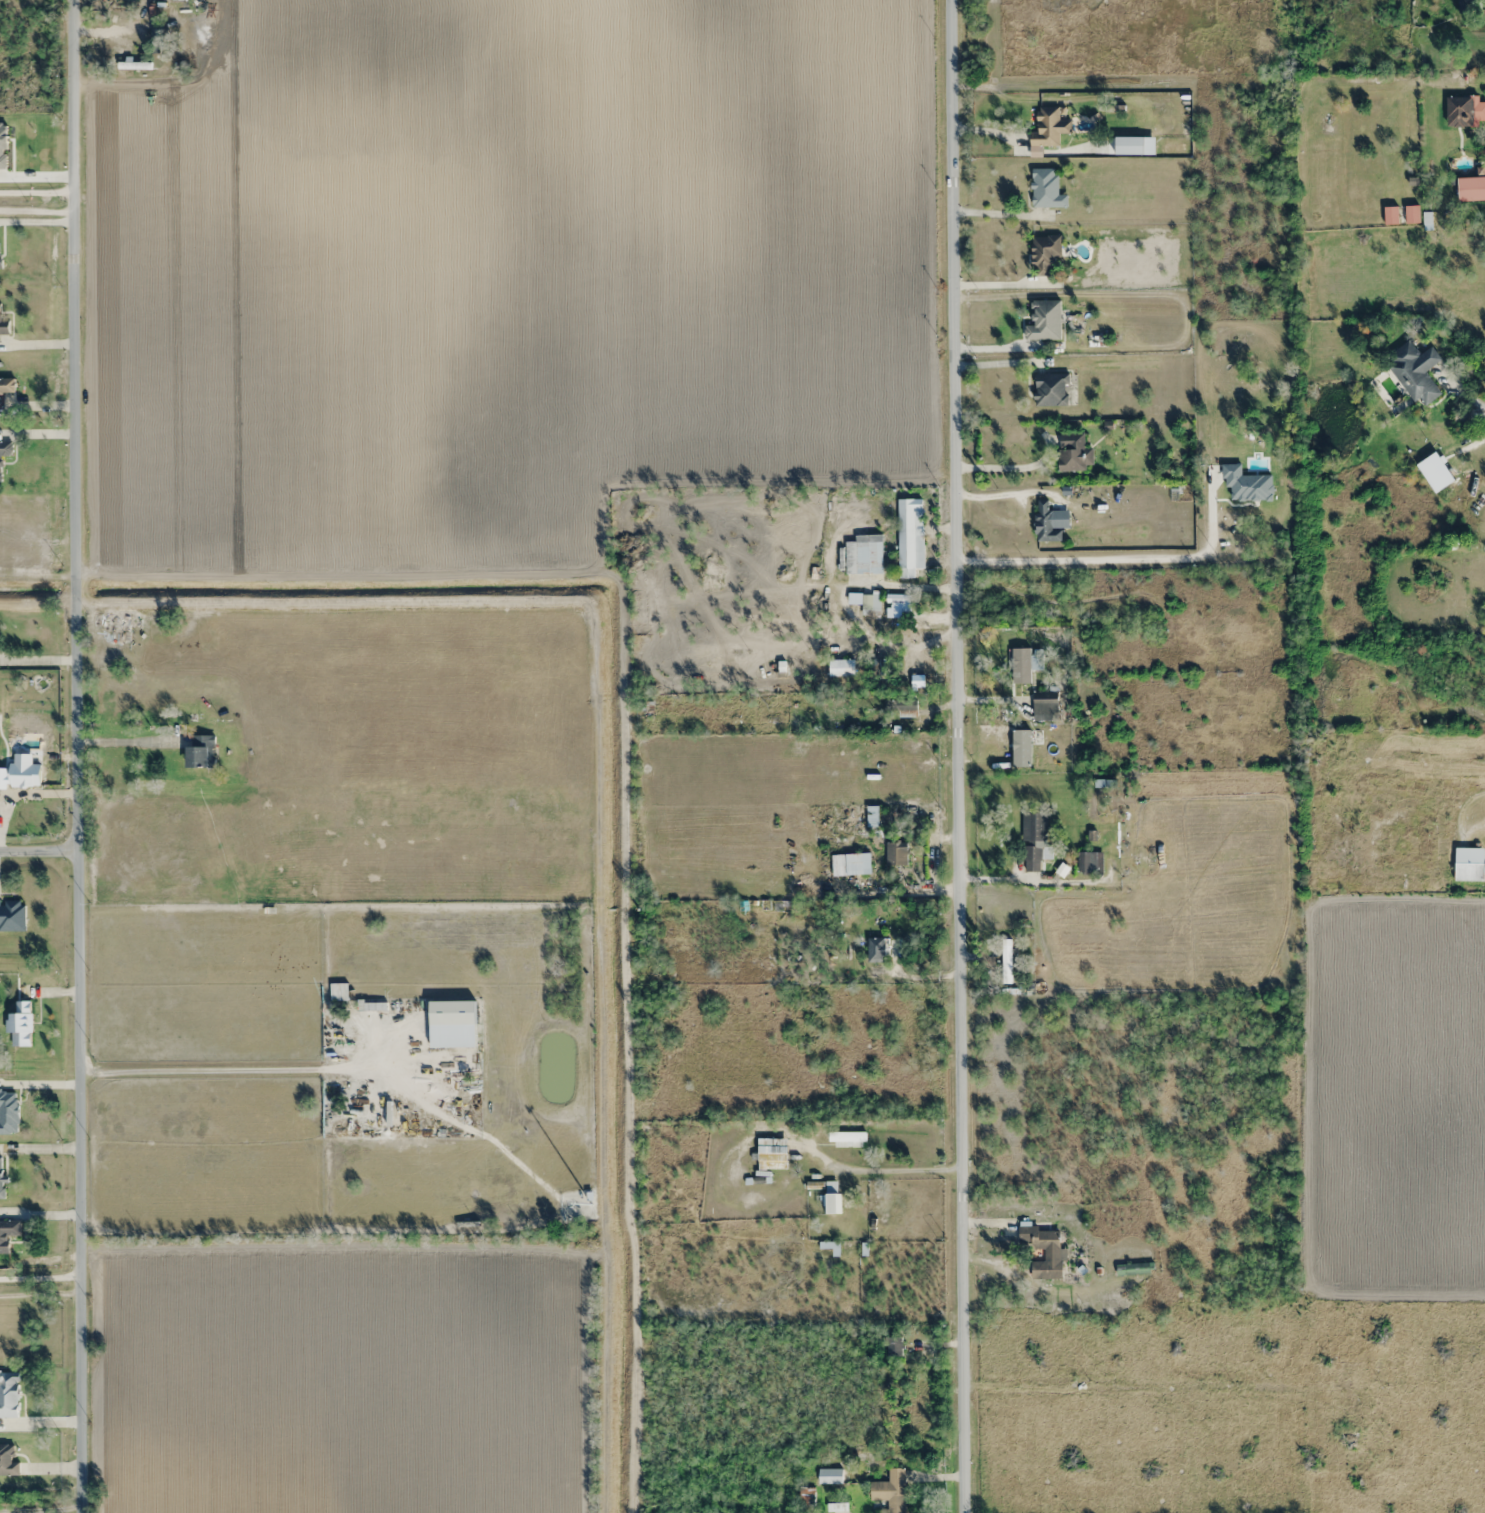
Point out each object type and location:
building: (1476, 110)
building: (1049, 127)
building: (1046, 189)
road: (38, 194)
road: (38, 212)
building: (1044, 253)
building: (1045, 320)
building: (4, 328)
building: (1415, 370)
building: (1051, 389)
building: (4, 451)
building: (1073, 452)
building: (1045, 522)
building: (908, 530)
building: (863, 555)
building: (897, 599)
building: (865, 603)
building: (116, 620)
building: (702, 665)
building: (1029, 666)
building: (774, 667)
building: (840, 667)
building: (880, 667)
building: (842, 702)
building: (1045, 704)
building: (644, 708)
building: (199, 752)
road: (80, 756)
road: (955, 756)
building: (881, 812)
building: (1032, 842)
road: (40, 851)
building: (896, 853)
building: (1090, 862)
building: (850, 864)
building: (1468, 871)
building: (12, 915)
building: (876, 949)
building: (1006, 961)
building: (452, 1013)
building: (20, 1025)
crop: (1401, 1095)
building: (9, 1111)
building: (847, 1139)
building: (772, 1153)
building: (1, 1178)
building: (831, 1199)
building: (8, 1233)
building: (1043, 1251)
road: (41, 1271)
road: (41, 1291)
building: (894, 1346)
crop: (336, 1382)
building: (9, 1394)
building: (1364, 1398)
building: (7, 1461)
building: (829, 1476)
building: (891, 1490)
building: (806, 1496)
building: (837, 1508)

